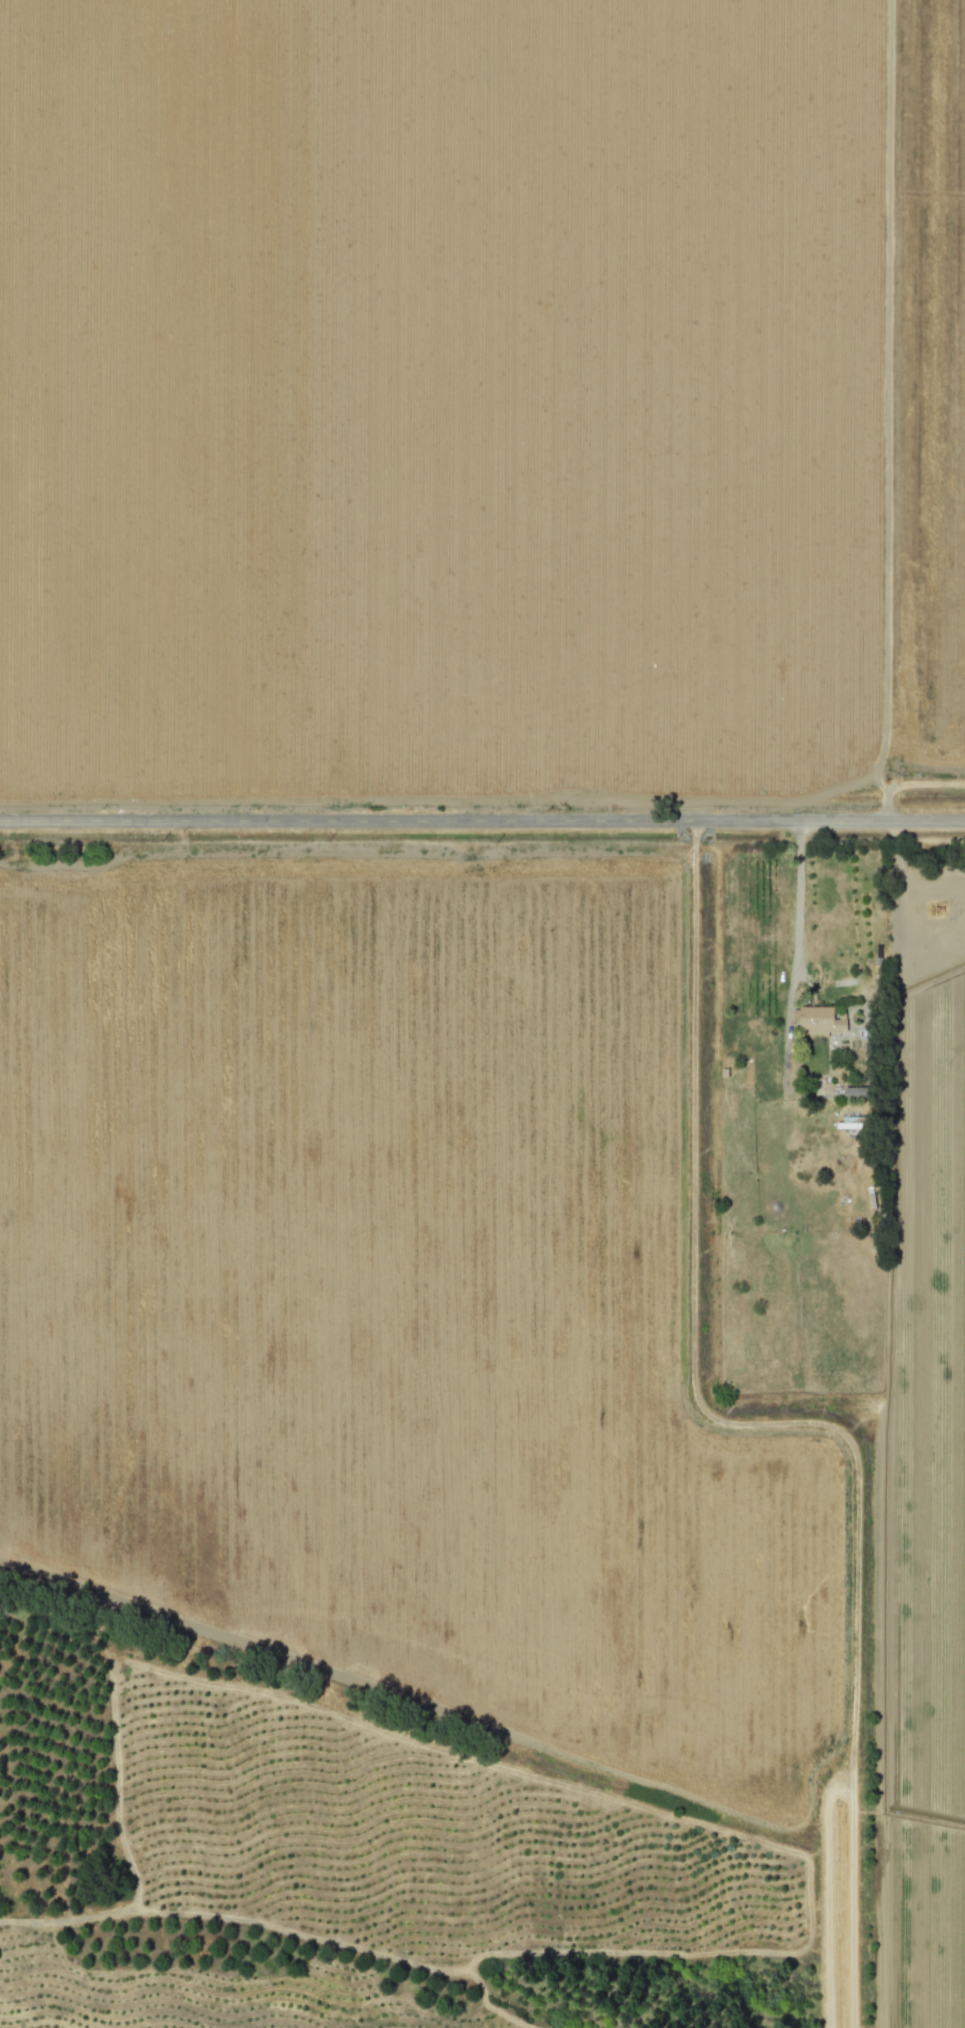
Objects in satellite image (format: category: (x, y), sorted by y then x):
crop: (481, 398)
road: (482, 821)
road: (798, 898)
building: (818, 1021)

